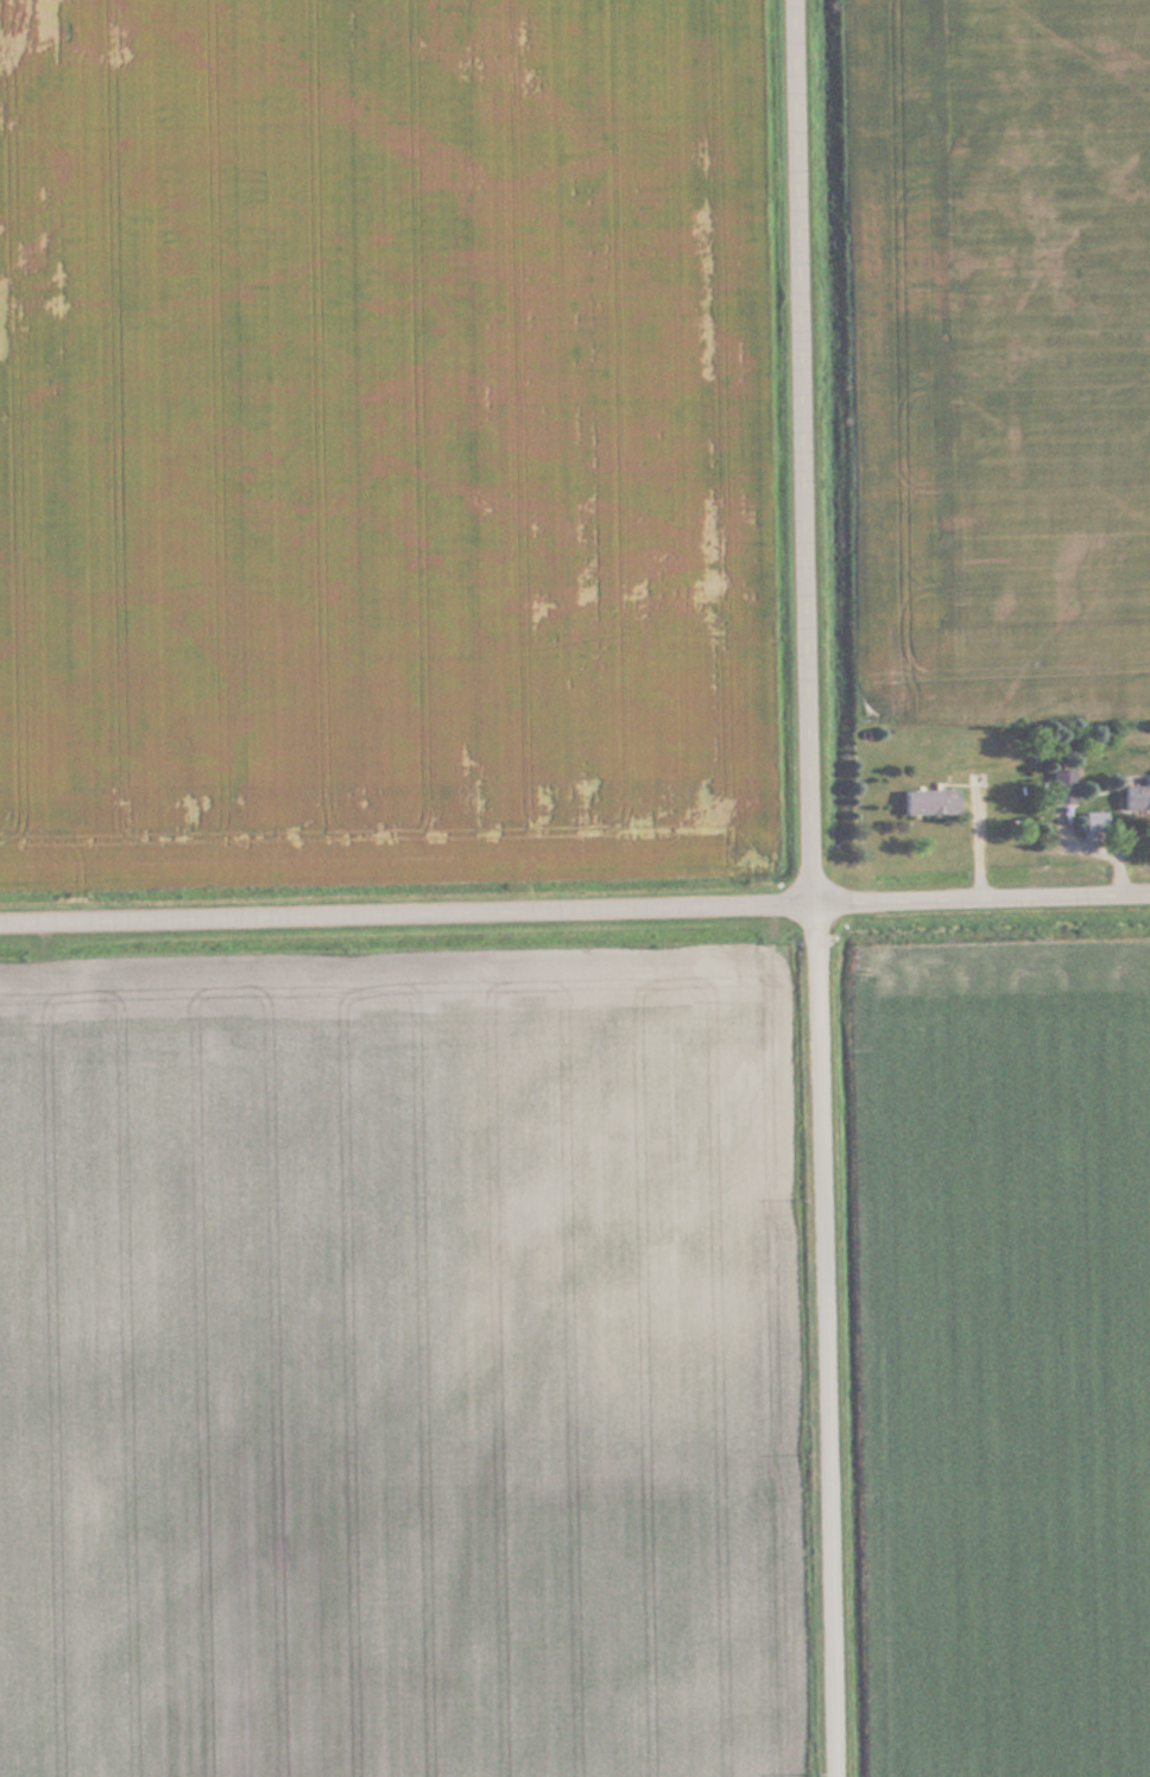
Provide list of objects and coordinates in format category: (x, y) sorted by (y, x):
building: (1062, 785)
building: (1137, 795)
building: (928, 802)
road: (813, 888)
road: (575, 897)

